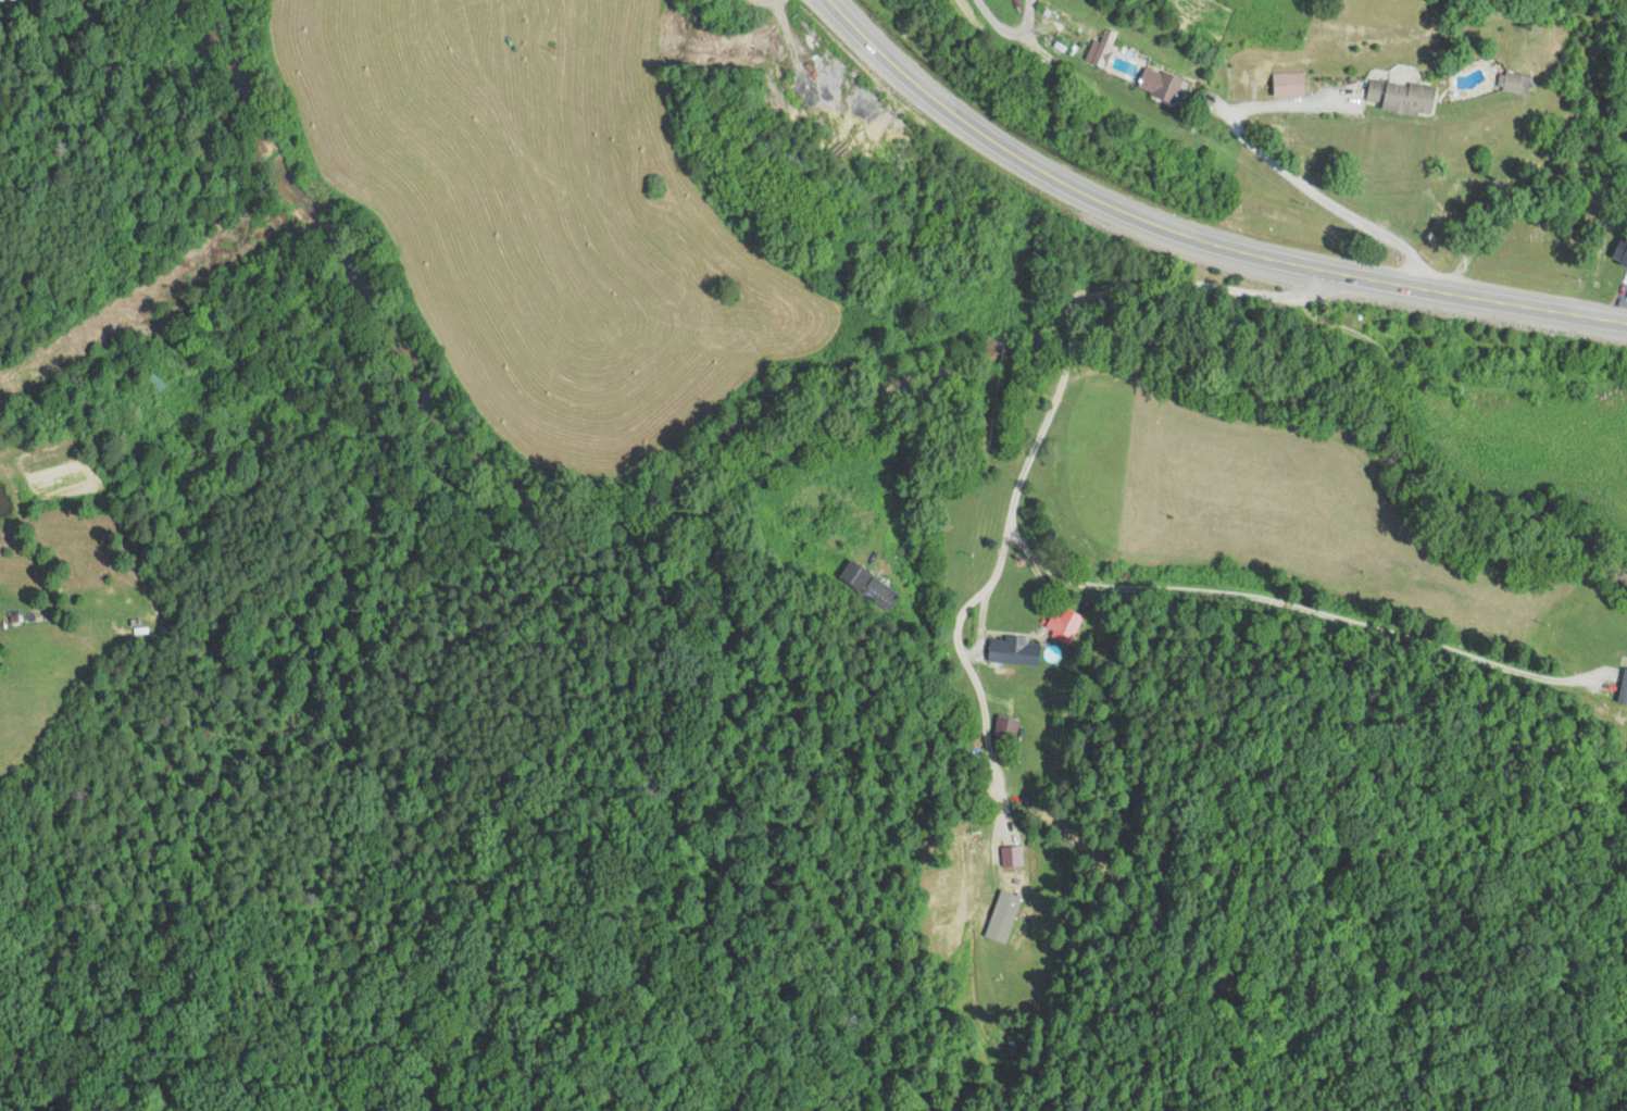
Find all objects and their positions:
road: (173, 9)
road: (781, 22)
road: (574, 115)
road: (164, 187)
road: (1194, 238)
road: (1125, 329)

